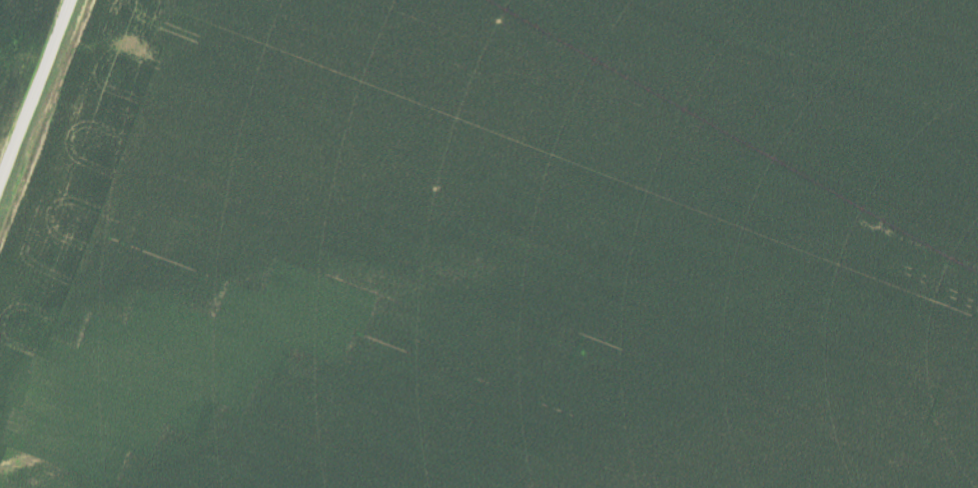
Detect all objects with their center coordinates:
road: (36, 95)

